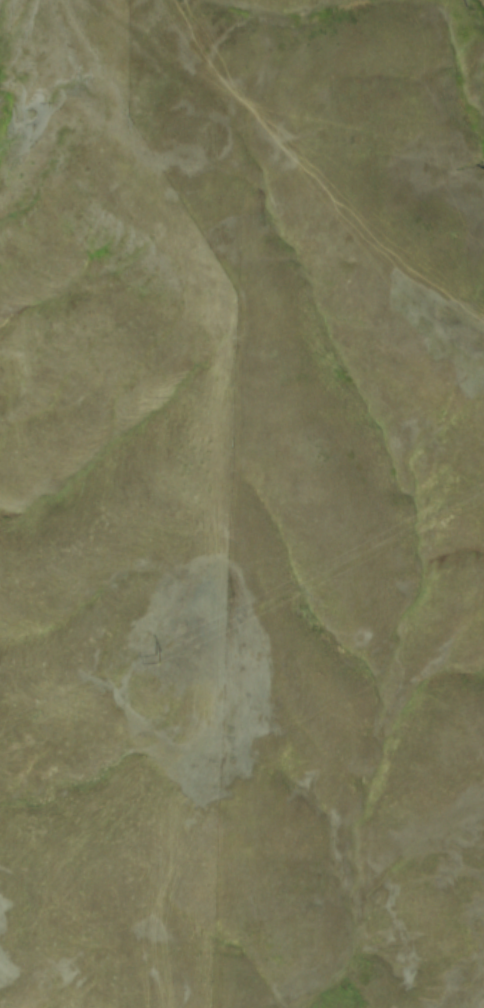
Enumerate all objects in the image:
power tower: (156, 658)

